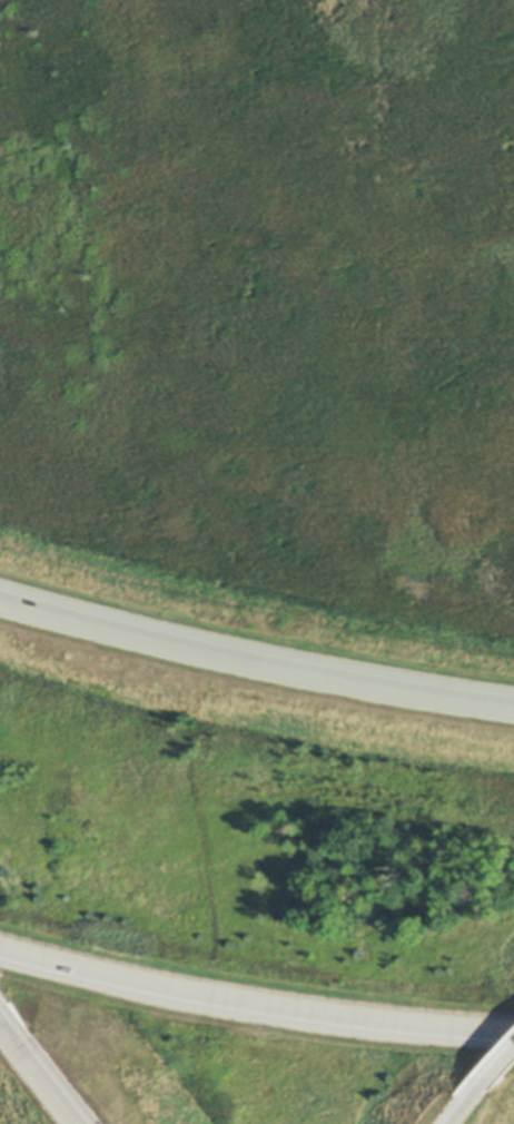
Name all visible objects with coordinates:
road: (254, 665)
road: (254, 1006)
road: (43, 1067)
road: (488, 1085)
road: (459, 1120)

